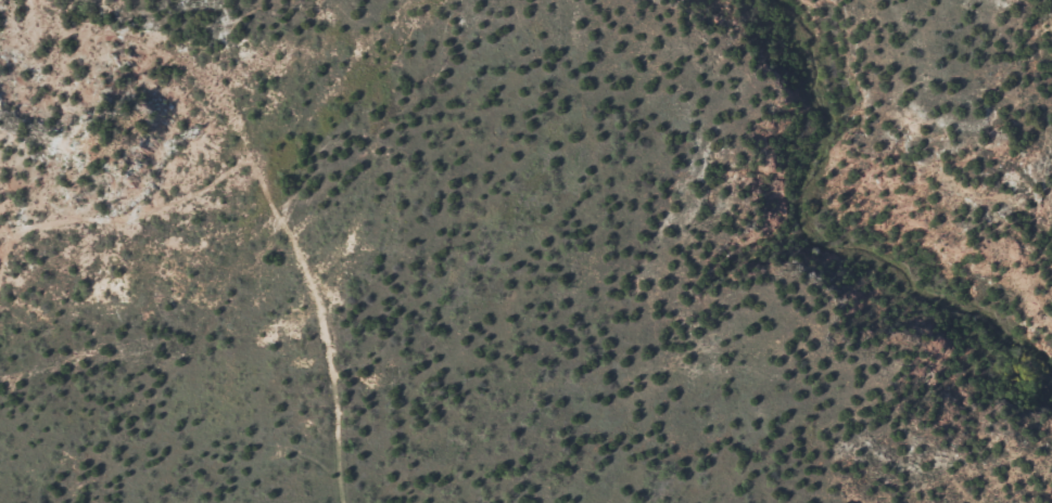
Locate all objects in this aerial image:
park: (525, 251)

